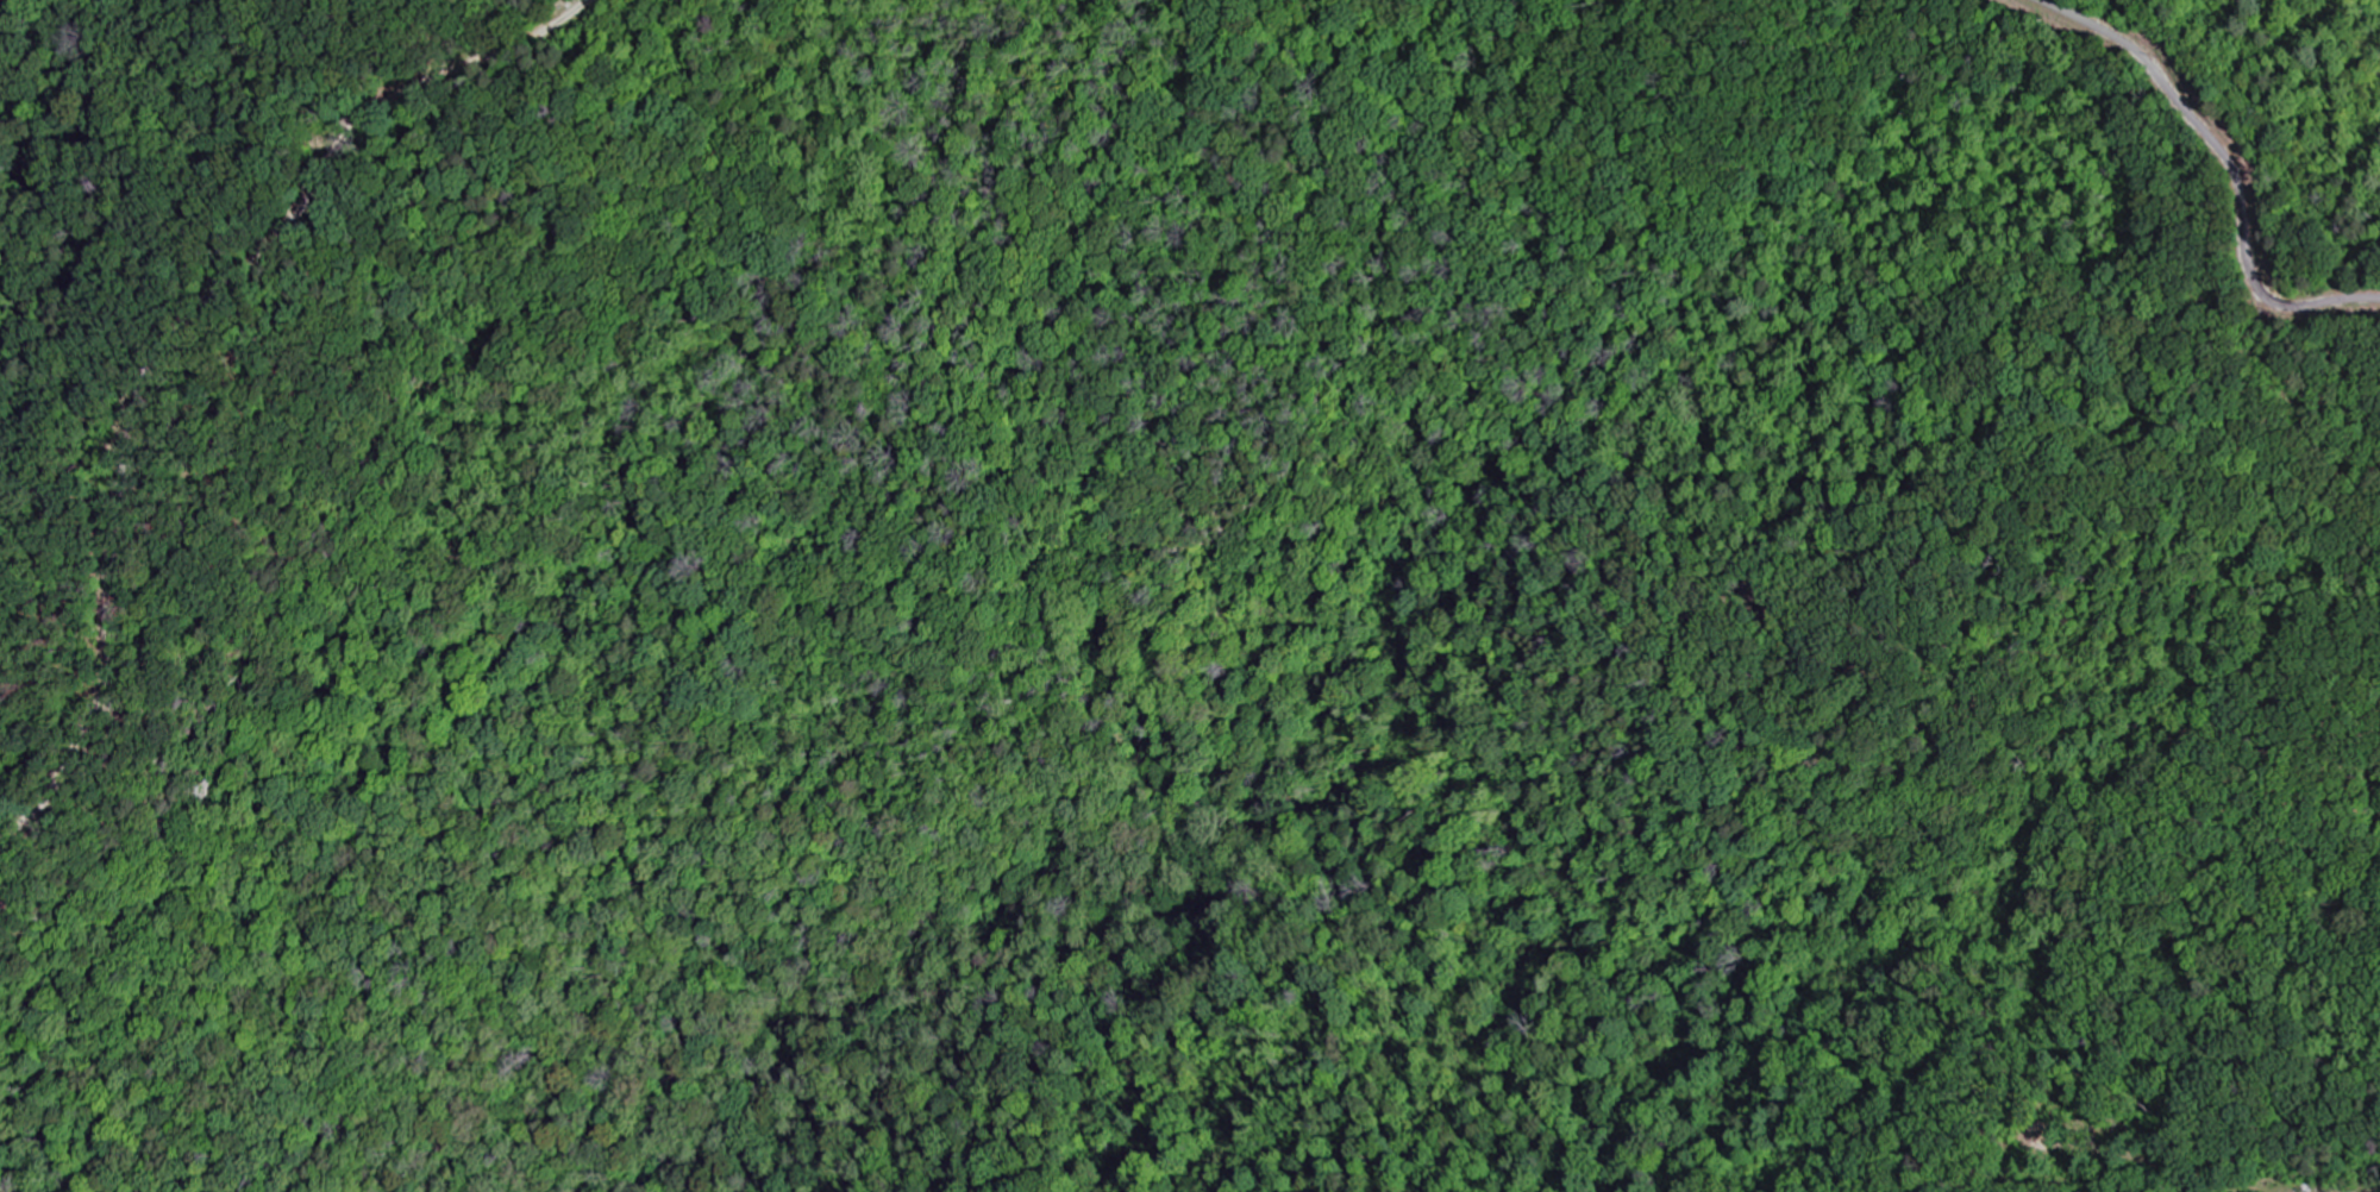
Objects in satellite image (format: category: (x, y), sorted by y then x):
road: (2228, 165)

